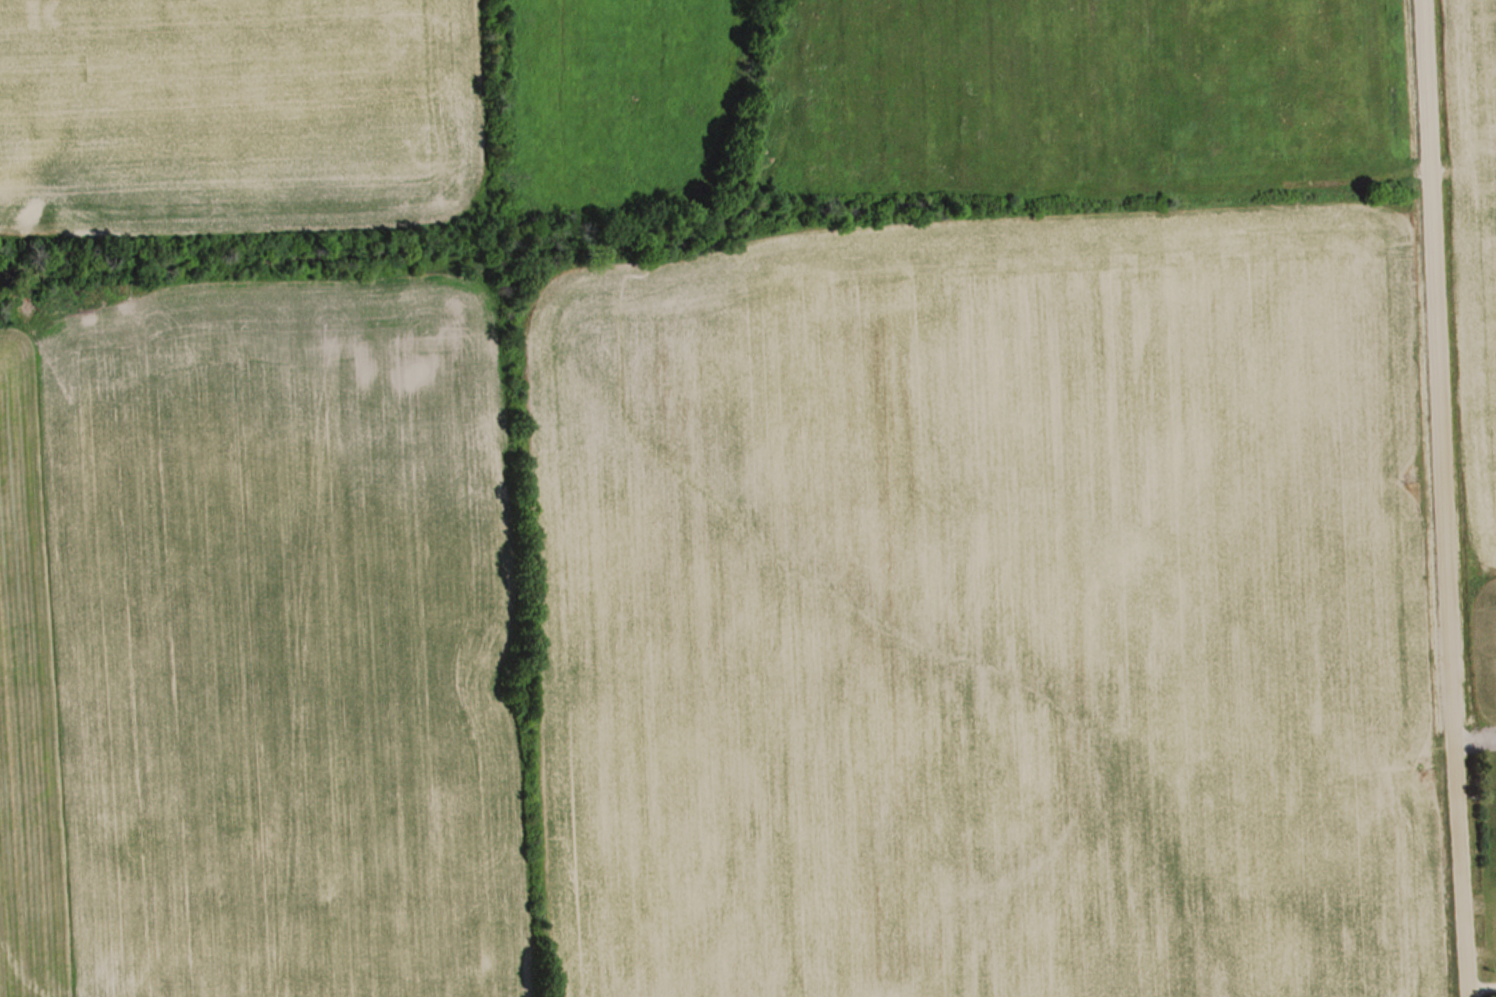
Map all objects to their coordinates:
road: (1439, 498)

